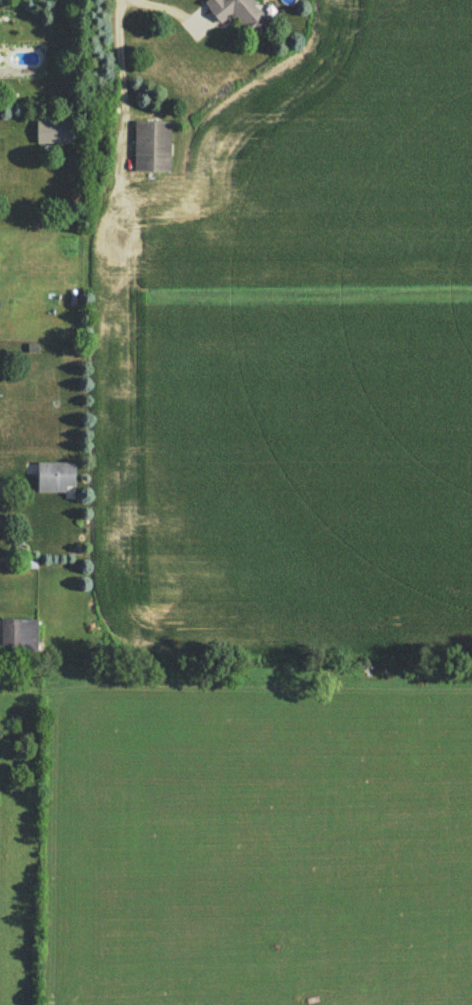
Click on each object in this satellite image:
building: (236, 11)
road: (114, 69)
building: (53, 130)
building: (151, 144)
building: (56, 476)
building: (18, 633)

